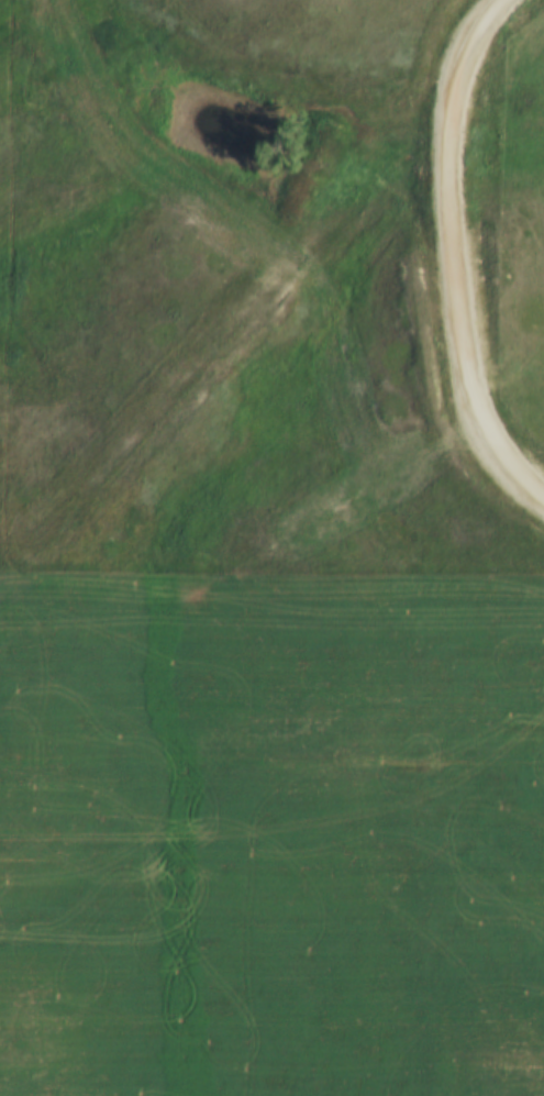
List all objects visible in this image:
road: (444, 259)
road: (203, 817)

